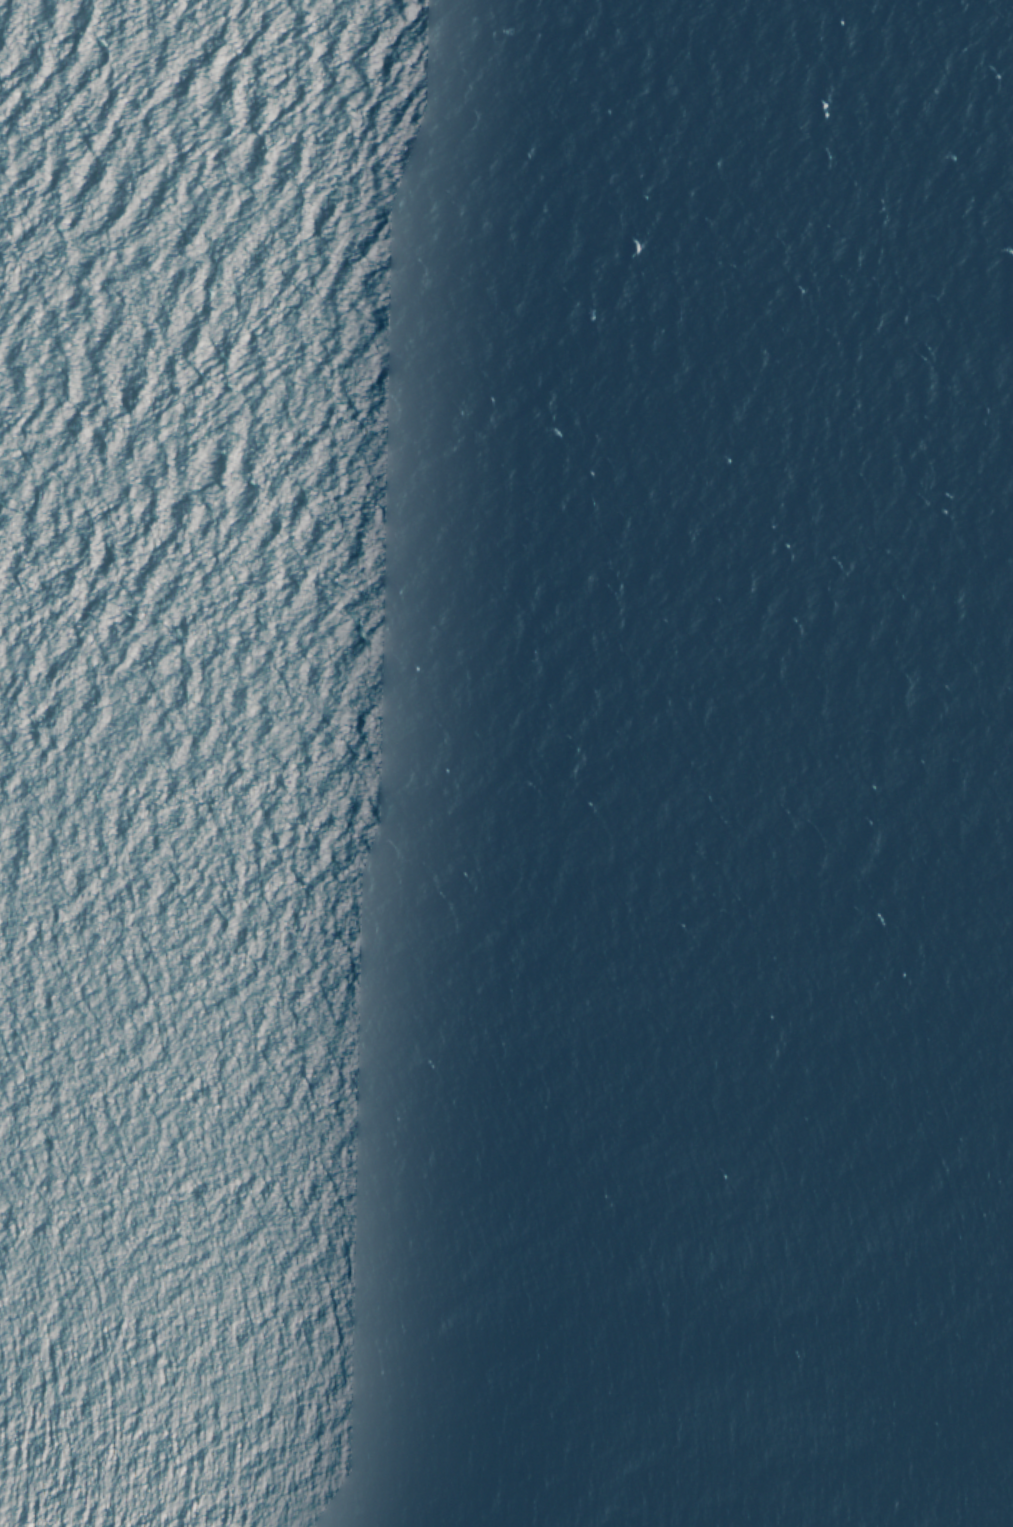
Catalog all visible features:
river: (506, 508)

